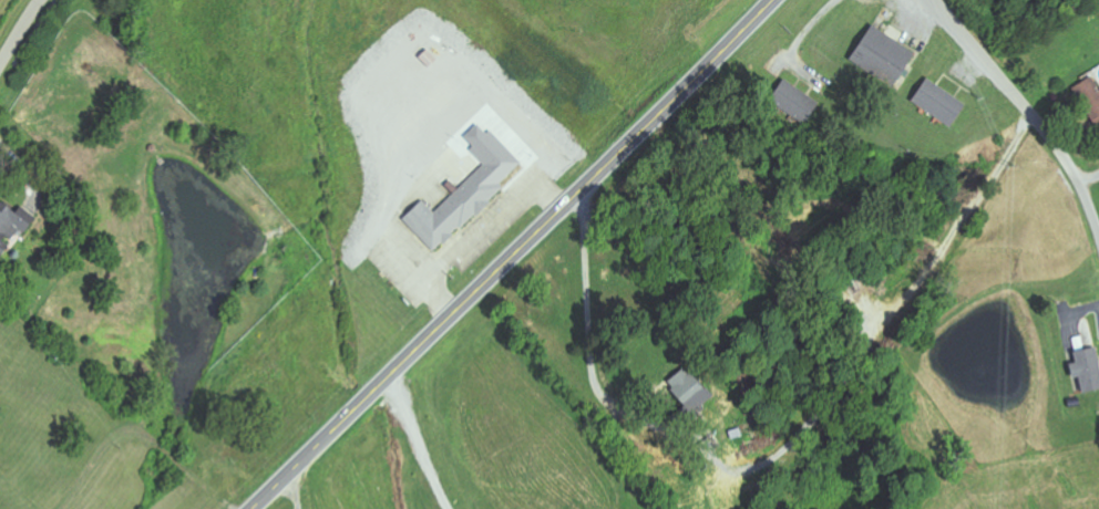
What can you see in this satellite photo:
road: (21, 32)
building: (885, 58)
building: (797, 101)
building: (942, 103)
road: (1025, 110)
building: (470, 190)
building: (14, 227)
road: (513, 256)
building: (1089, 370)

